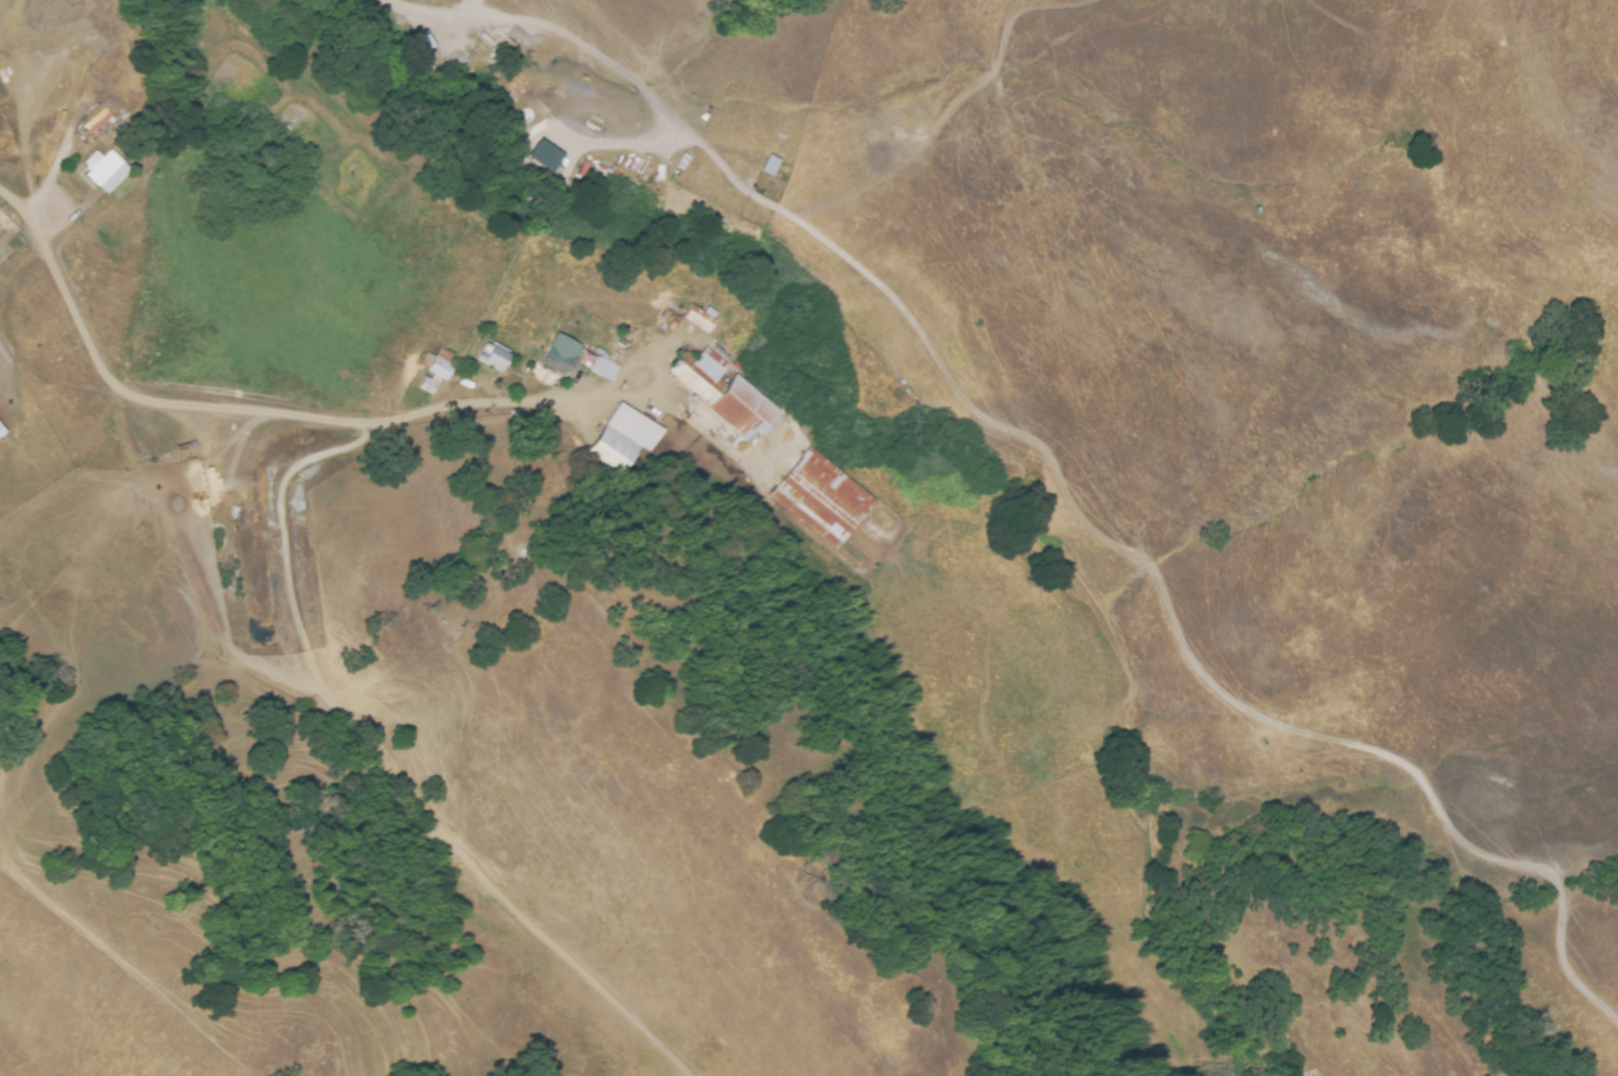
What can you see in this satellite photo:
road: (471, 9)
building: (419, 46)
building: (765, 165)
building: (107, 170)
road: (802, 223)
building: (556, 353)
building: (487, 355)
road: (657, 358)
building: (435, 366)
building: (601, 367)
building: (698, 372)
building: (423, 384)
building: (739, 407)
road: (238, 412)
building: (2, 431)
building: (624, 436)
building: (821, 497)
road: (305, 652)

